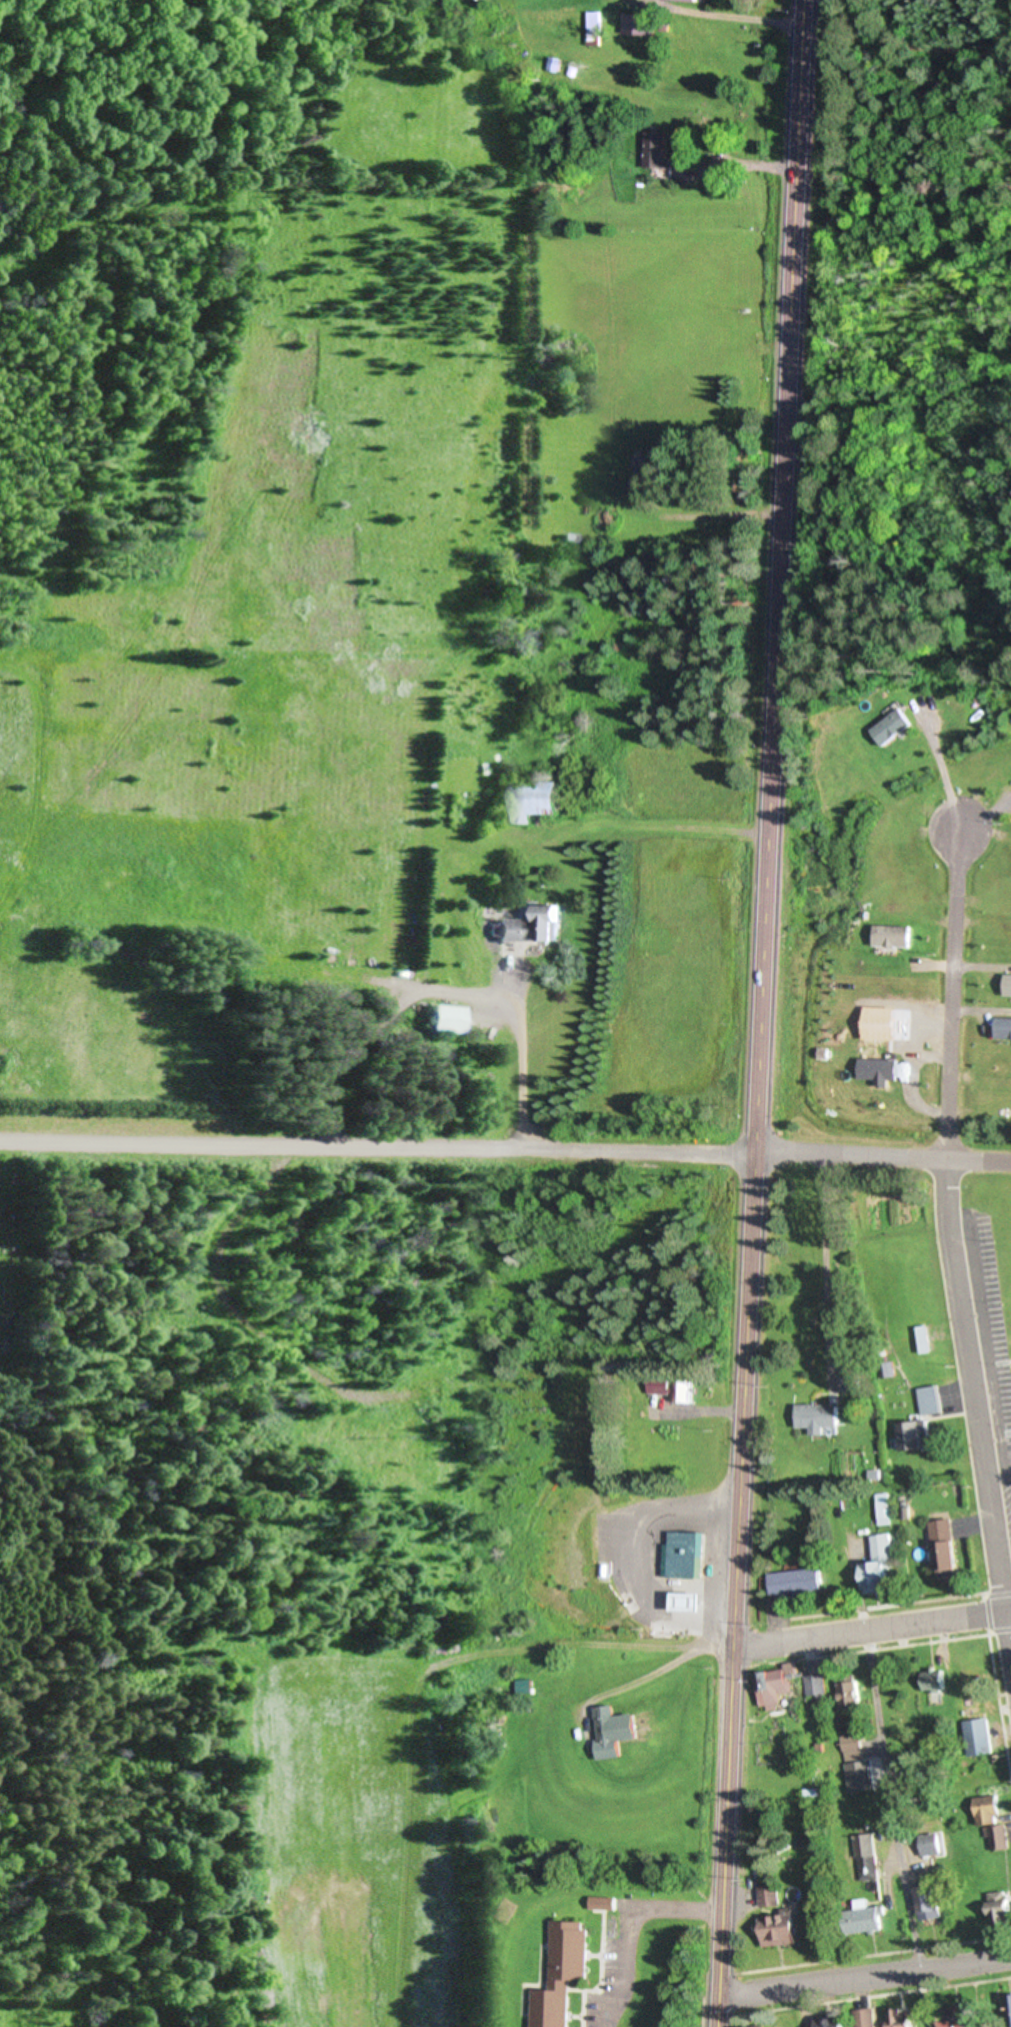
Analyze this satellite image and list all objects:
building: (689, 0)
building: (639, 24)
building: (595, 28)
building: (554, 63)
building: (657, 150)
road: (788, 335)
building: (891, 726)
building: (536, 800)
road: (765, 912)
building: (531, 926)
building: (893, 936)
building: (1009, 984)
building: (447, 1017)
building: (1005, 1027)
building: (880, 1069)
road: (378, 1147)
road: (883, 1157)
road: (948, 1244)
park: (14, 1262)
road: (826, 1266)
building: (924, 1339)
building: (888, 1370)
building: (851, 1382)
building: (674, 1391)
building: (820, 1417)
building: (921, 1421)
building: (945, 1546)
building: (685, 1554)
building: (882, 1565)
building: (798, 1582)
road: (737, 1590)
building: (688, 1602)
road: (872, 1631)
road: (577, 1645)
building: (935, 1681)
building: (818, 1684)
building: (779, 1685)
building: (526, 1686)
building: (972, 1689)
building: (852, 1694)
building: (615, 1730)
building: (979, 1737)
building: (853, 1744)
building: (861, 1778)
building: (992, 1820)
road: (899, 1829)
crop: (345, 1830)
building: (933, 1844)
building: (868, 1856)
building: (773, 1895)
building: (930, 1902)
building: (605, 1903)
building: (1000, 1903)
building: (865, 1918)
road: (630, 1929)
building: (781, 1929)
building: (562, 1974)
road: (864, 1979)
building: (1010, 2011)
building: (960, 2015)
building: (867, 2017)
building: (902, 2019)
building: (832, 2022)

